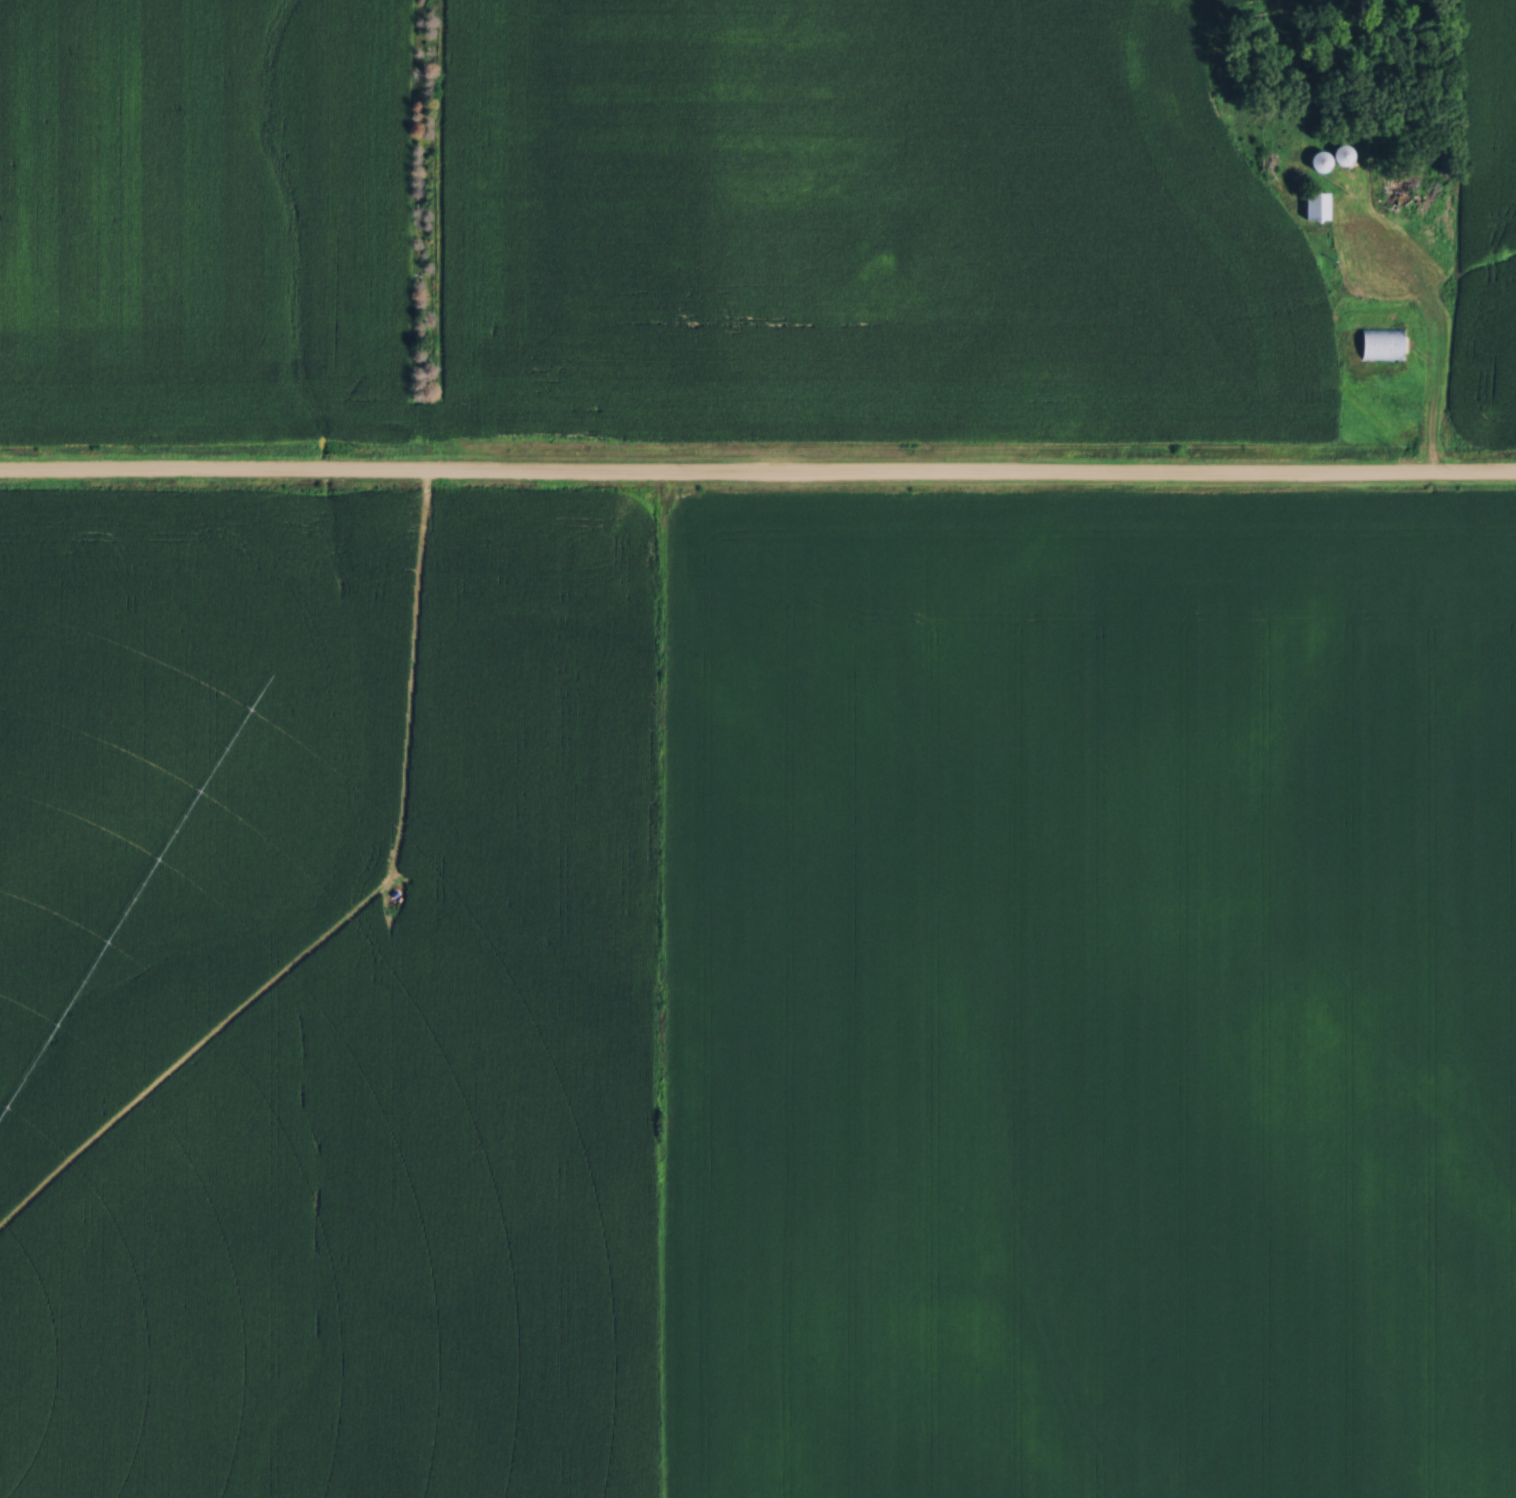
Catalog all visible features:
building: (1327, 157)
building: (1313, 204)
road: (1438, 336)
building: (1377, 341)
road: (758, 479)

